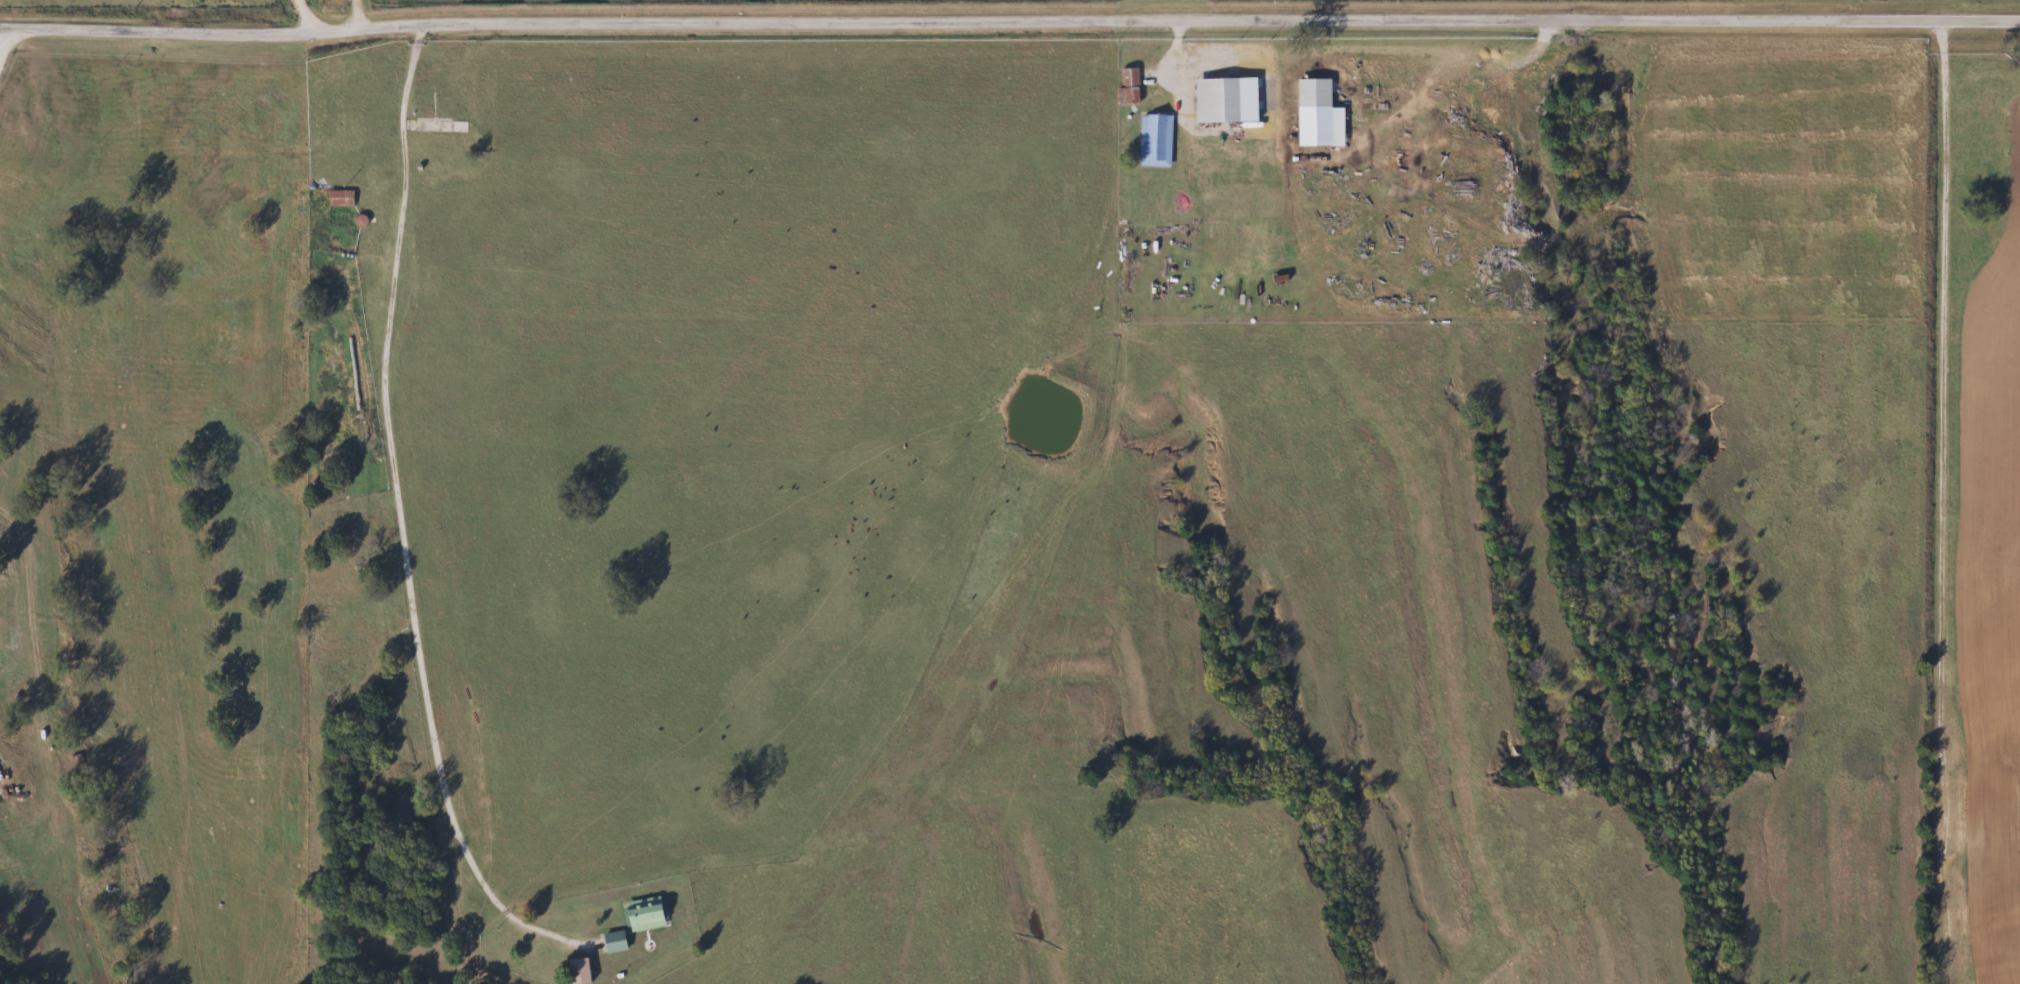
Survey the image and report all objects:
road: (1952, 10)
road: (361, 14)
road: (306, 17)
road: (975, 20)
road: (1986, 21)
road: (5, 50)
building: (1131, 86)
building: (1309, 93)
building: (1220, 100)
building: (1157, 140)
road: (403, 532)
building: (647, 915)
building: (616, 941)
building: (582, 971)

